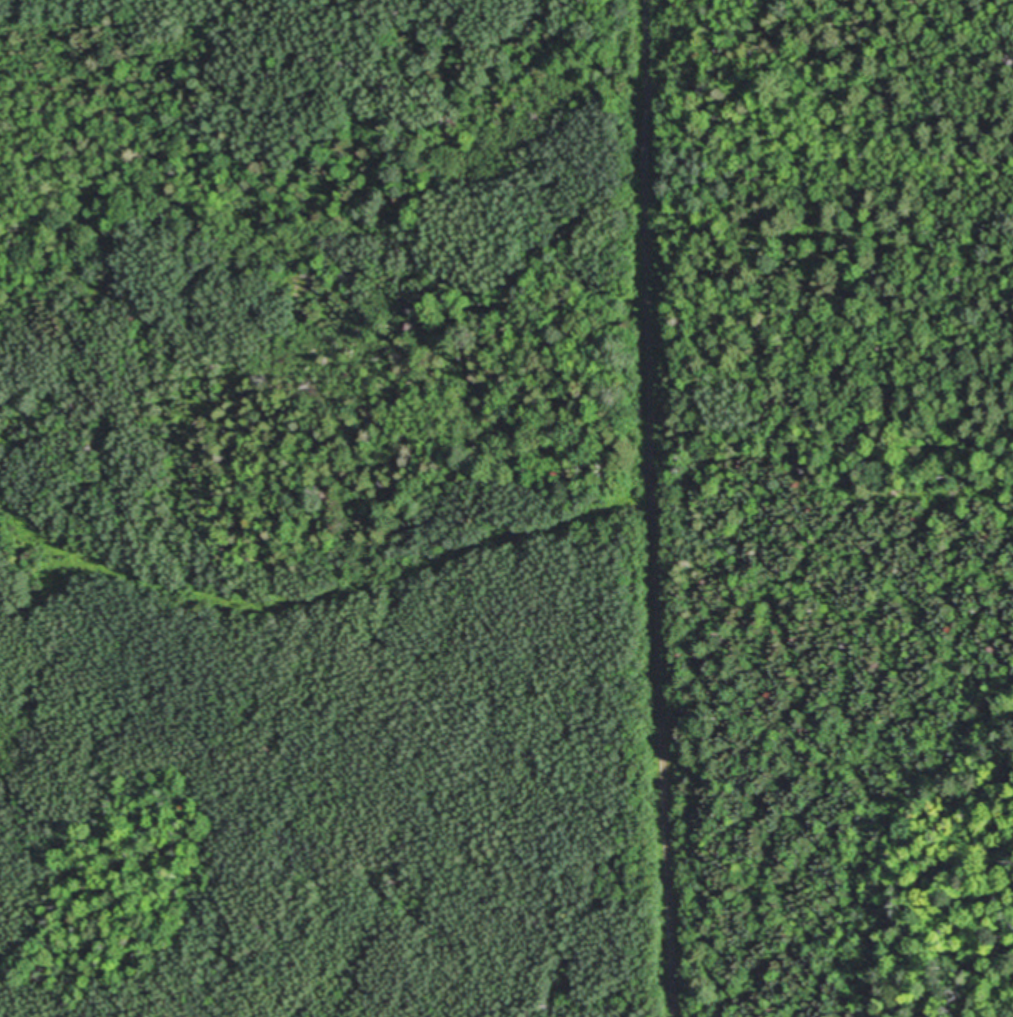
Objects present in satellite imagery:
road: (658, 508)

